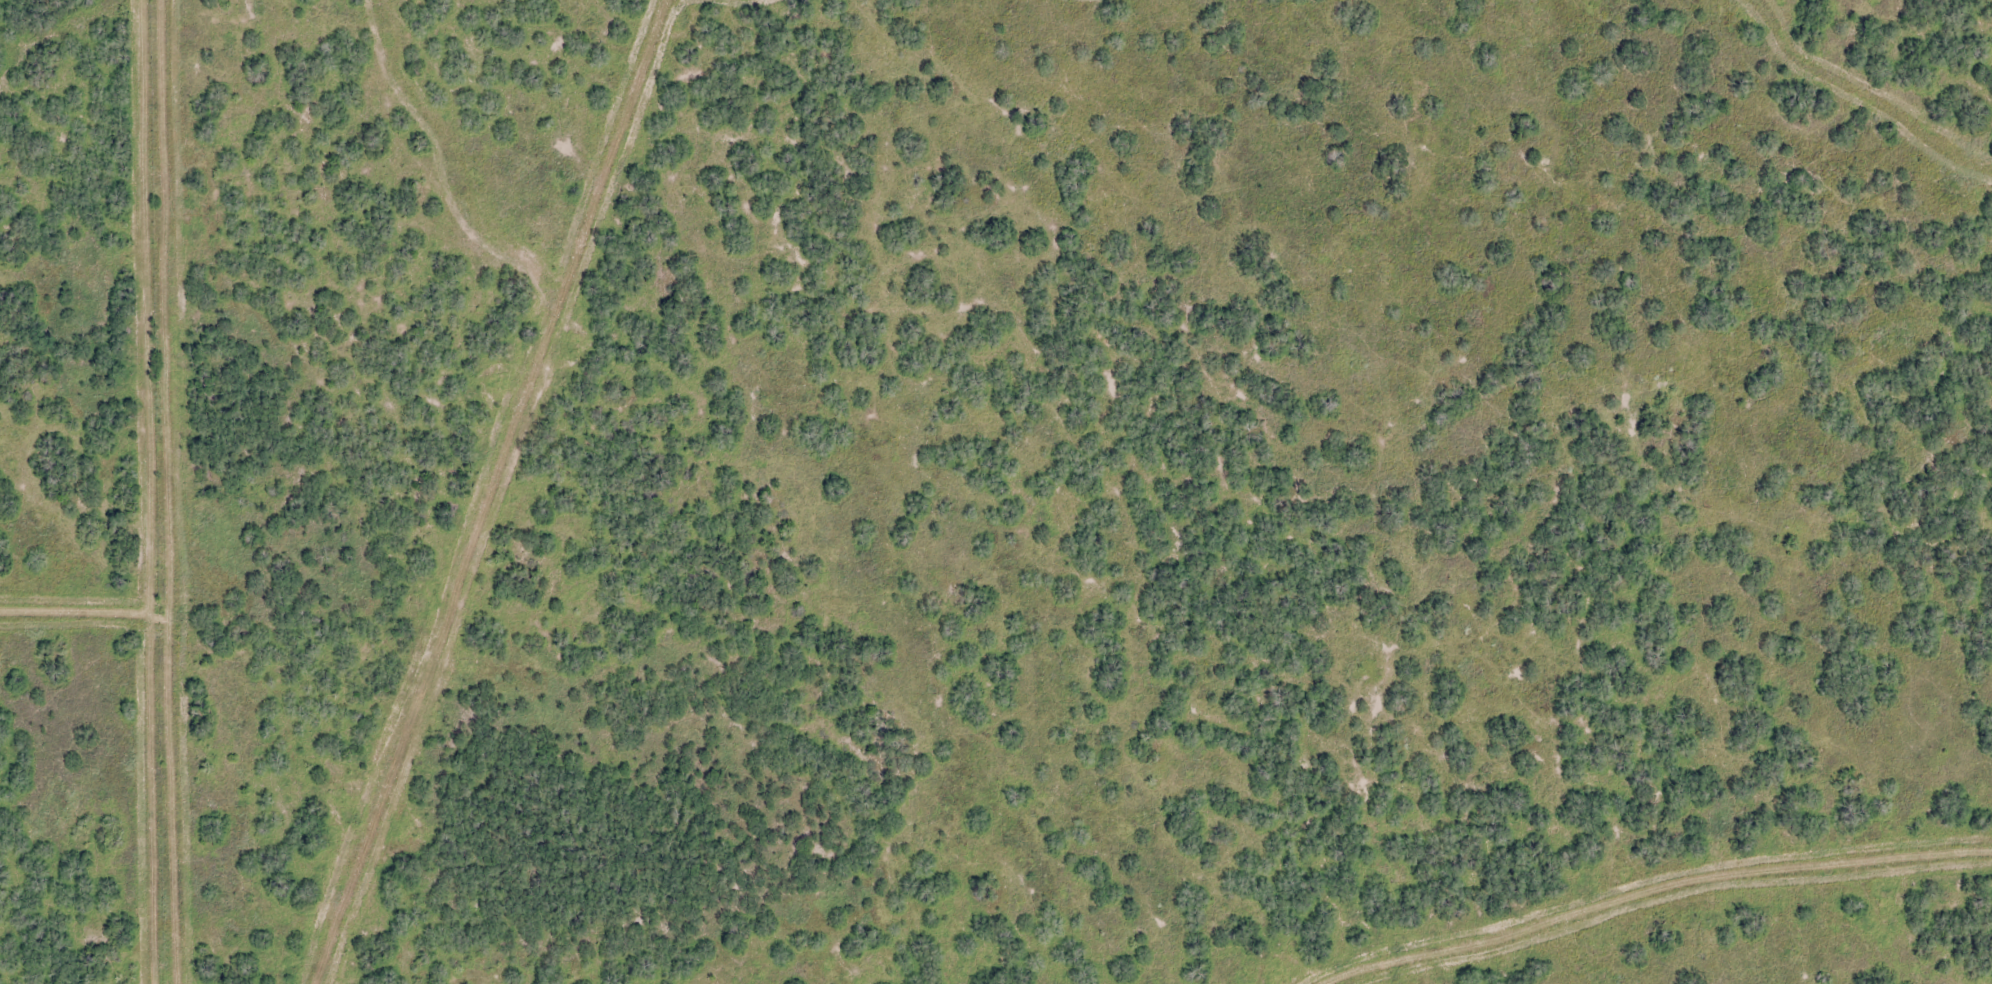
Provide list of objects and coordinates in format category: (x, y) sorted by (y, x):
road: (1706, 937)

